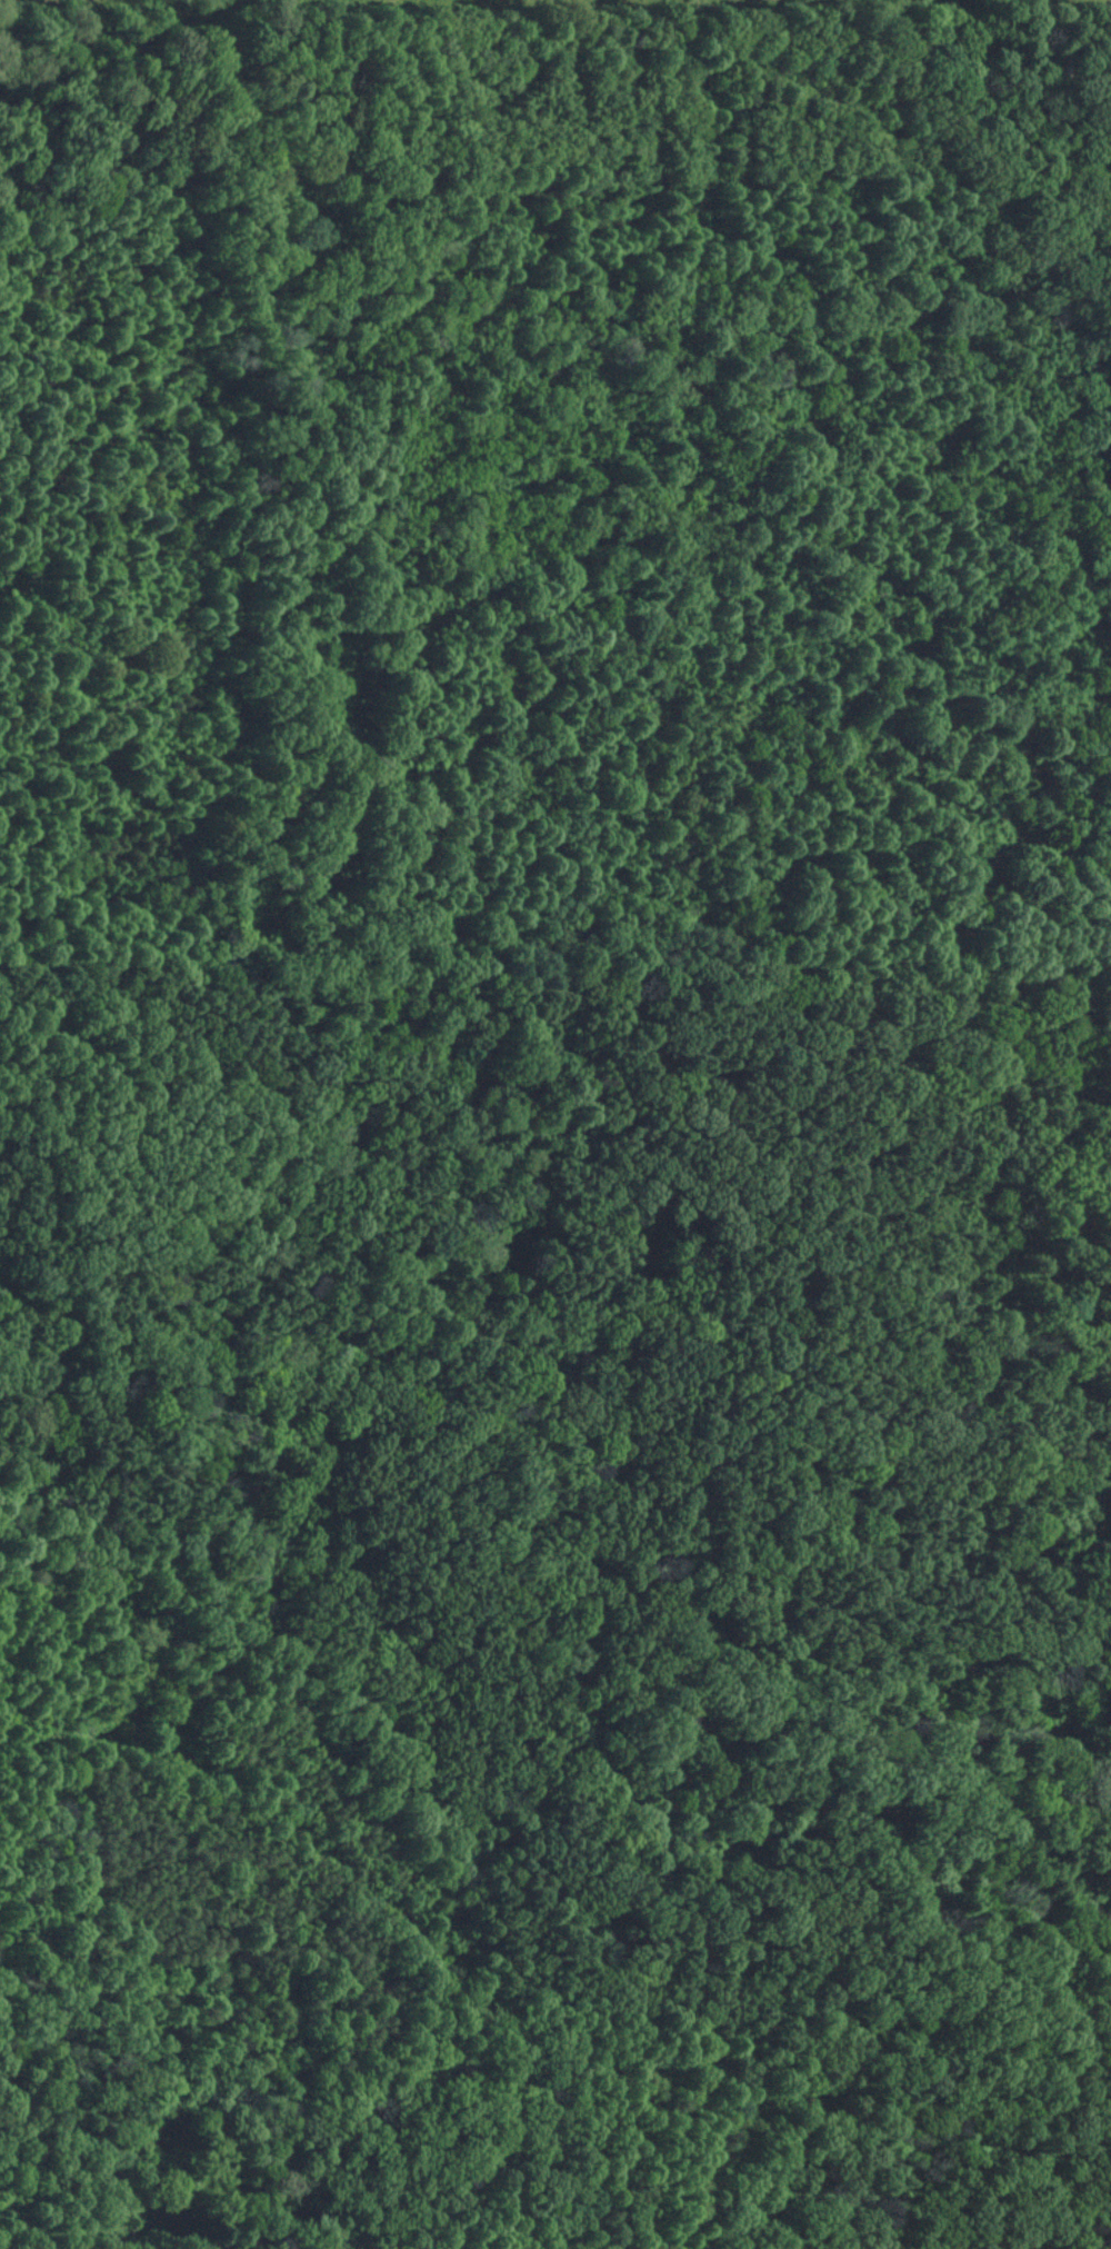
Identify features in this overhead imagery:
road: (767, 1489)
water tower: (124, 1699)
road: (88, 1740)

